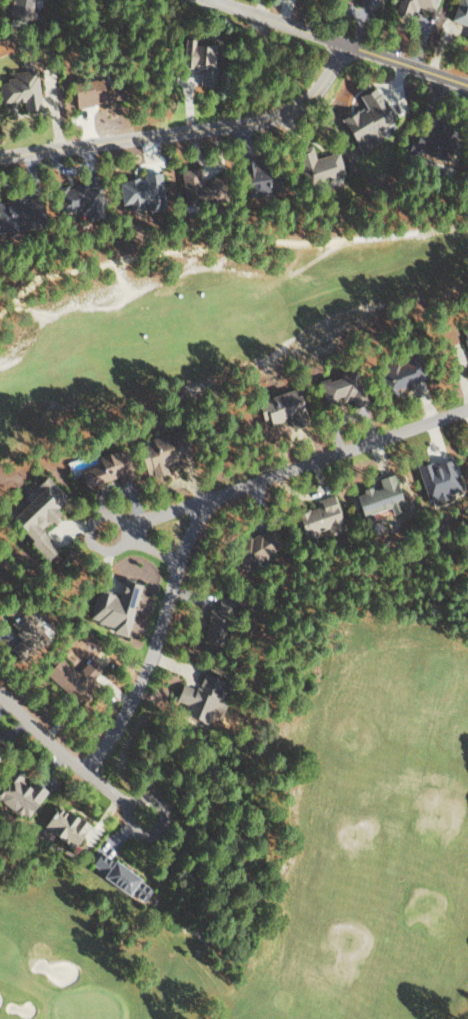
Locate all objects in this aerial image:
building: (364, 3)
building: (411, 5)
building: (21, 11)
building: (460, 14)
road: (335, 43)
building: (195, 60)
building: (19, 89)
building: (88, 93)
building: (364, 119)
road: (190, 133)
building: (426, 141)
building: (314, 165)
building: (252, 177)
building: (191, 186)
building: (137, 190)
building: (72, 198)
building: (11, 211)
road: (443, 228)
road: (202, 250)
park: (217, 310)
building: (465, 341)
building: (394, 377)
building: (336, 388)
building: (275, 406)
building: (154, 455)
building: (99, 469)
building: (433, 480)
building: (376, 497)
road: (174, 511)
road: (201, 513)
building: (34, 516)
building: (318, 518)
building: (255, 547)
building: (112, 606)
building: (217, 620)
building: (23, 627)
building: (71, 677)
building: (199, 698)
road: (62, 756)
building: (18, 794)
building: (61, 825)
park: (304, 852)
building: (117, 877)

